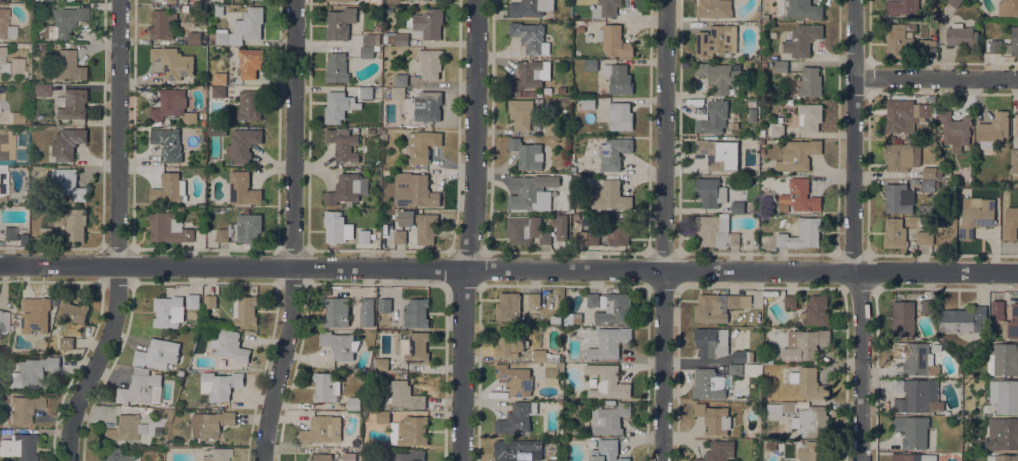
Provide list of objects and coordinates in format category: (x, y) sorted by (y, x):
building: (36, 0)
building: (338, 0)
building: (437, 0)
building: (171, 1)
building: (954, 2)
building: (530, 7)
building: (610, 7)
building: (902, 7)
building: (1008, 7)
building: (714, 8)
building: (805, 9)
building: (389, 10)
building: (65, 21)
building: (250, 22)
building: (340, 23)
building: (427, 23)
building: (6, 24)
building: (162, 24)
building: (962, 35)
building: (220, 36)
building: (530, 36)
building: (194, 38)
building: (396, 38)
building: (371, 39)
building: (802, 39)
building: (899, 39)
building: (716, 40)
building: (614, 41)
building: (1012, 42)
building: (925, 45)
building: (23, 46)
building: (224, 46)
building: (996, 46)
building: (42, 47)
building: (368, 51)
building: (3, 61)
building: (249, 61)
building: (172, 62)
building: (430, 62)
building: (590, 64)
building: (17, 65)
building: (68, 66)
building: (781, 66)
building: (336, 67)
building: (530, 74)
building: (720, 76)
building: (219, 77)
building: (618, 77)
road: (936, 78)
building: (27, 80)
building: (401, 80)
building: (810, 81)
building: (40, 90)
building: (218, 91)
building: (365, 92)
building: (398, 92)
building: (71, 103)
building: (588, 103)
building: (752, 103)
building: (249, 104)
building: (429, 104)
building: (168, 105)
building: (339, 106)
building: (521, 112)
building: (905, 114)
building: (620, 116)
building: (17, 117)
building: (713, 117)
building: (809, 117)
building: (203, 122)
building: (1017, 124)
building: (551, 128)
building: (954, 129)
building: (993, 129)
building: (199, 130)
building: (777, 130)
building: (213, 131)
building: (383, 134)
road: (477, 135)
road: (854, 136)
building: (67, 143)
building: (168, 143)
building: (6, 144)
building: (242, 144)
building: (342, 144)
building: (422, 145)
building: (613, 152)
building: (717, 152)
building: (527, 153)
building: (797, 154)
building: (902, 156)
building: (1014, 160)
building: (218, 162)
building: (386, 172)
building: (931, 172)
road: (867, 174)
building: (3, 182)
building: (68, 183)
building: (929, 185)
building: (169, 188)
building: (242, 188)
building: (344, 189)
building: (414, 190)
building: (531, 191)
building: (711, 191)
building: (610, 196)
building: (799, 196)
building: (898, 198)
building: (12, 201)
building: (737, 206)
building: (180, 208)
building: (219, 210)
building: (351, 211)
building: (976, 215)
building: (387, 218)
building: (1010, 223)
building: (74, 224)
building: (337, 227)
building: (167, 228)
building: (242, 228)
building: (427, 228)
building: (518, 228)
building: (619, 230)
road: (665, 230)
road: (293, 231)
building: (716, 231)
building: (10, 232)
building: (46, 233)
building: (802, 233)
building: (896, 234)
road: (120, 235)
building: (363, 235)
building: (545, 237)
building: (593, 237)
building: (924, 237)
building: (754, 247)
road: (509, 269)
building: (534, 299)
building: (593, 299)
building: (192, 300)
building: (738, 300)
building: (210, 301)
building: (790, 301)
building: (385, 304)
building: (508, 306)
building: (928, 306)
building: (616, 308)
building: (709, 309)
building: (998, 309)
building: (244, 310)
building: (816, 310)
building: (168, 311)
building: (336, 311)
building: (71, 312)
building: (367, 312)
building: (416, 312)
building: (36, 315)
building: (573, 318)
building: (903, 318)
building: (963, 319)
building: (3, 321)
building: (1011, 323)
building: (712, 341)
building: (66, 342)
building: (509, 342)
building: (609, 342)
building: (339, 344)
building: (804, 344)
building: (230, 345)
building: (413, 346)
building: (3, 350)
building: (157, 353)
building: (545, 355)
building: (743, 355)
building: (916, 358)
building: (1003, 359)
building: (381, 363)
road: (464, 365)
road: (861, 366)
building: (735, 369)
building: (396, 370)
building: (32, 371)
building: (180, 372)
building: (552, 373)
building: (515, 379)
building: (606, 381)
building: (809, 383)
building: (219, 384)
building: (708, 384)
building: (141, 387)
building: (326, 387)
building: (402, 395)
building: (917, 395)
building: (1004, 395)
building: (610, 402)
building: (353, 403)
building: (25, 407)
building: (780, 408)
building: (383, 417)
building: (517, 418)
building: (609, 418)
building: (714, 418)
building: (812, 421)
building: (209, 424)
building: (124, 429)
building: (321, 430)
building: (412, 430)
building: (912, 431)
building: (1003, 433)
building: (770, 445)
building: (21, 446)
building: (518, 450)
building: (813, 450)
building: (553, 451)
building: (606, 451)
building: (718, 451)
building: (218, 454)
building: (350, 454)
building: (116, 455)
building: (405, 456)
building: (320, 457)
building: (913, 457)
building: (1002, 457)

